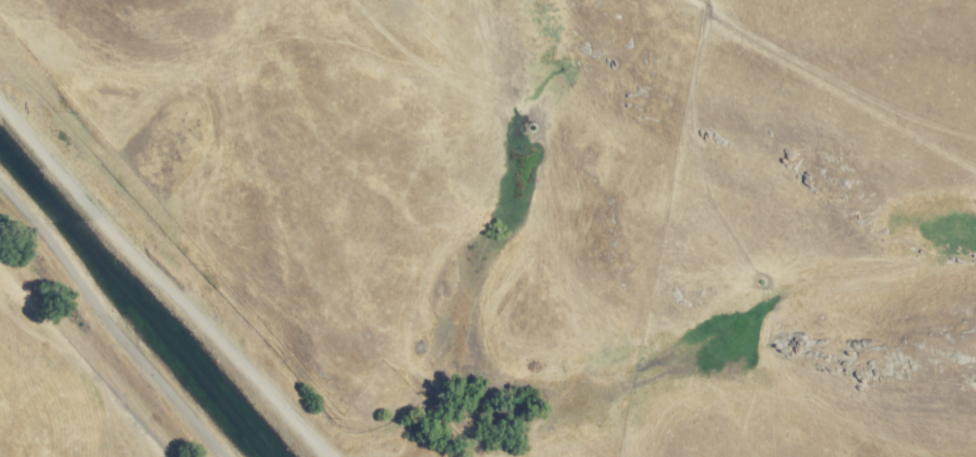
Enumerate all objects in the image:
road: (745, 14)
road: (237, 230)
road: (103, 356)

